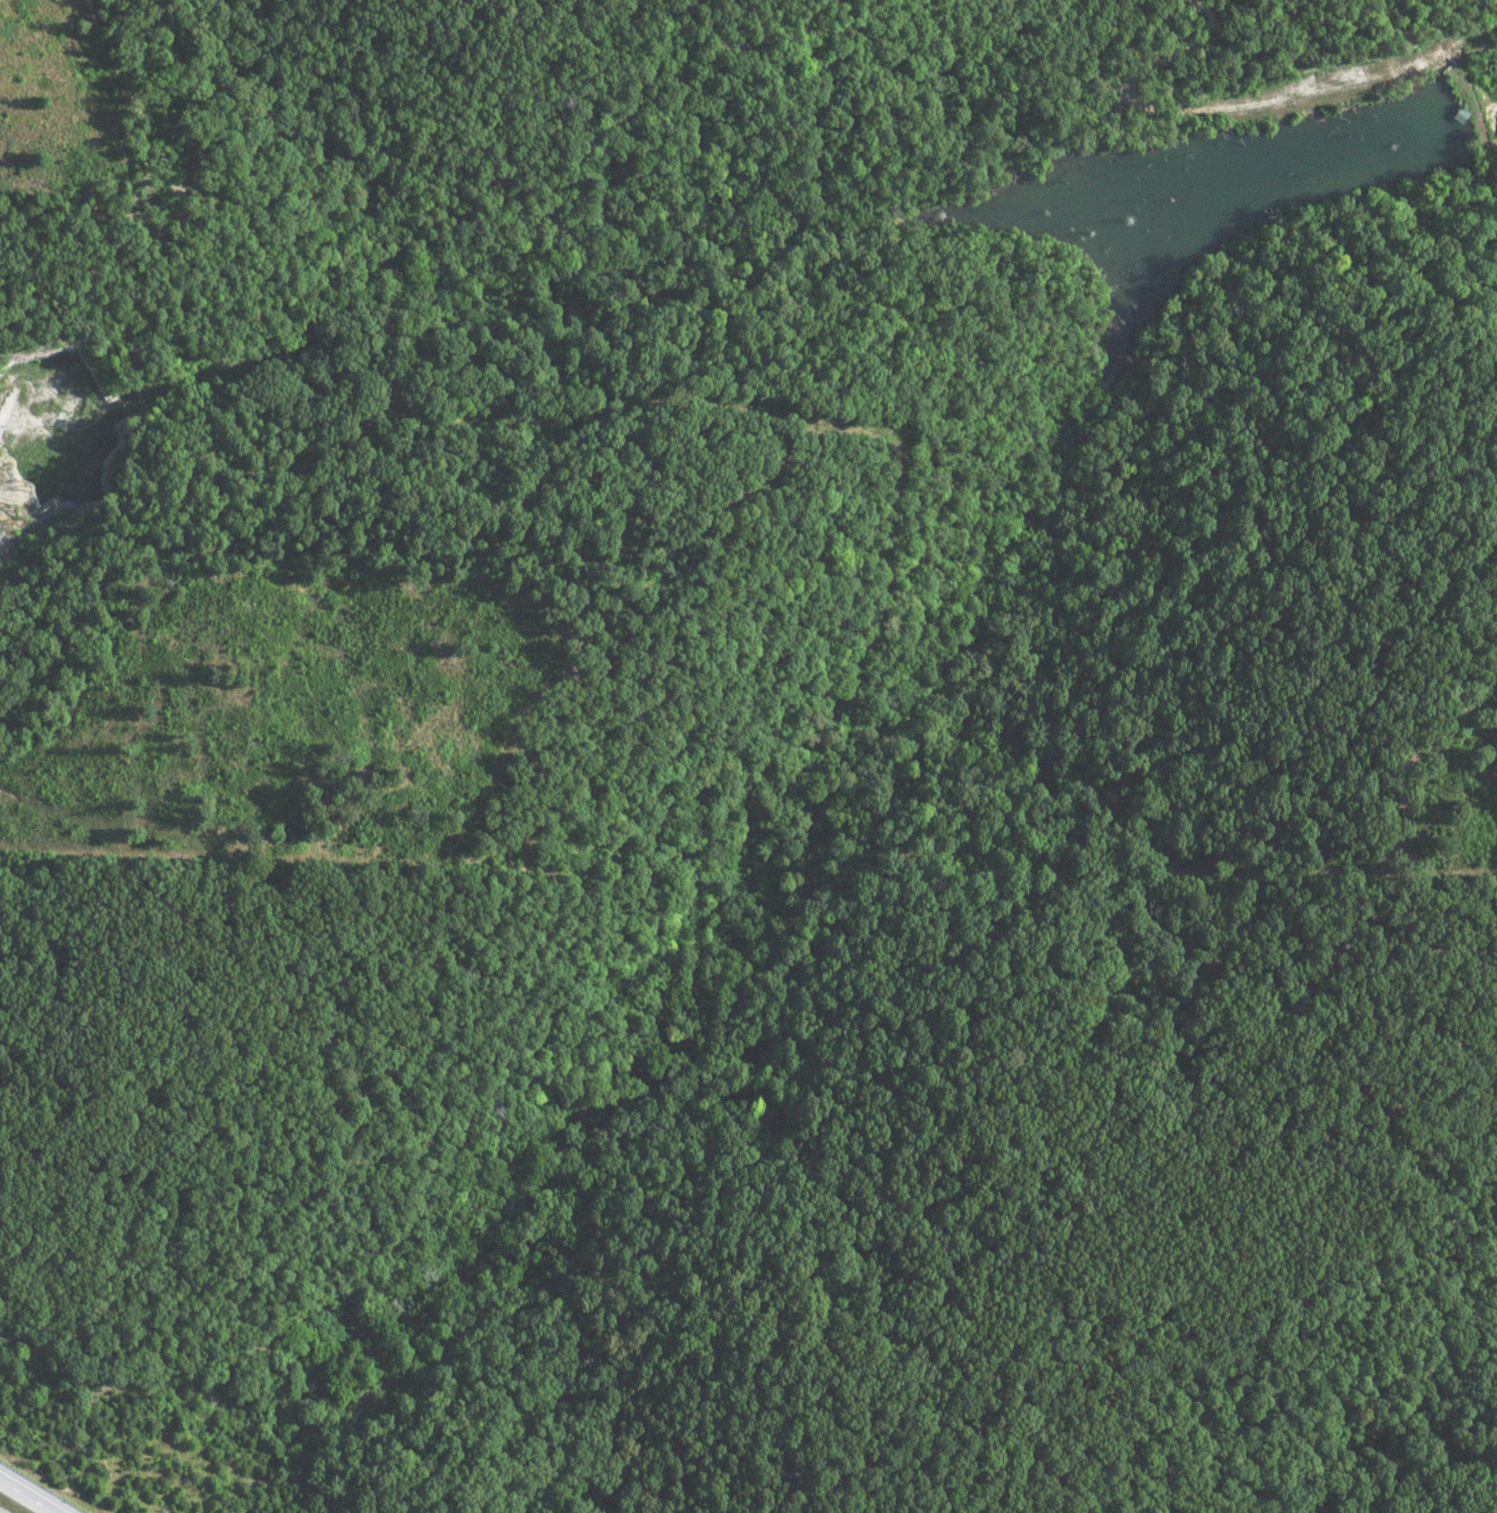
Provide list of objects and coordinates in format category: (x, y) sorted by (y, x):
quarry: (45, 449)
road: (24, 1498)

